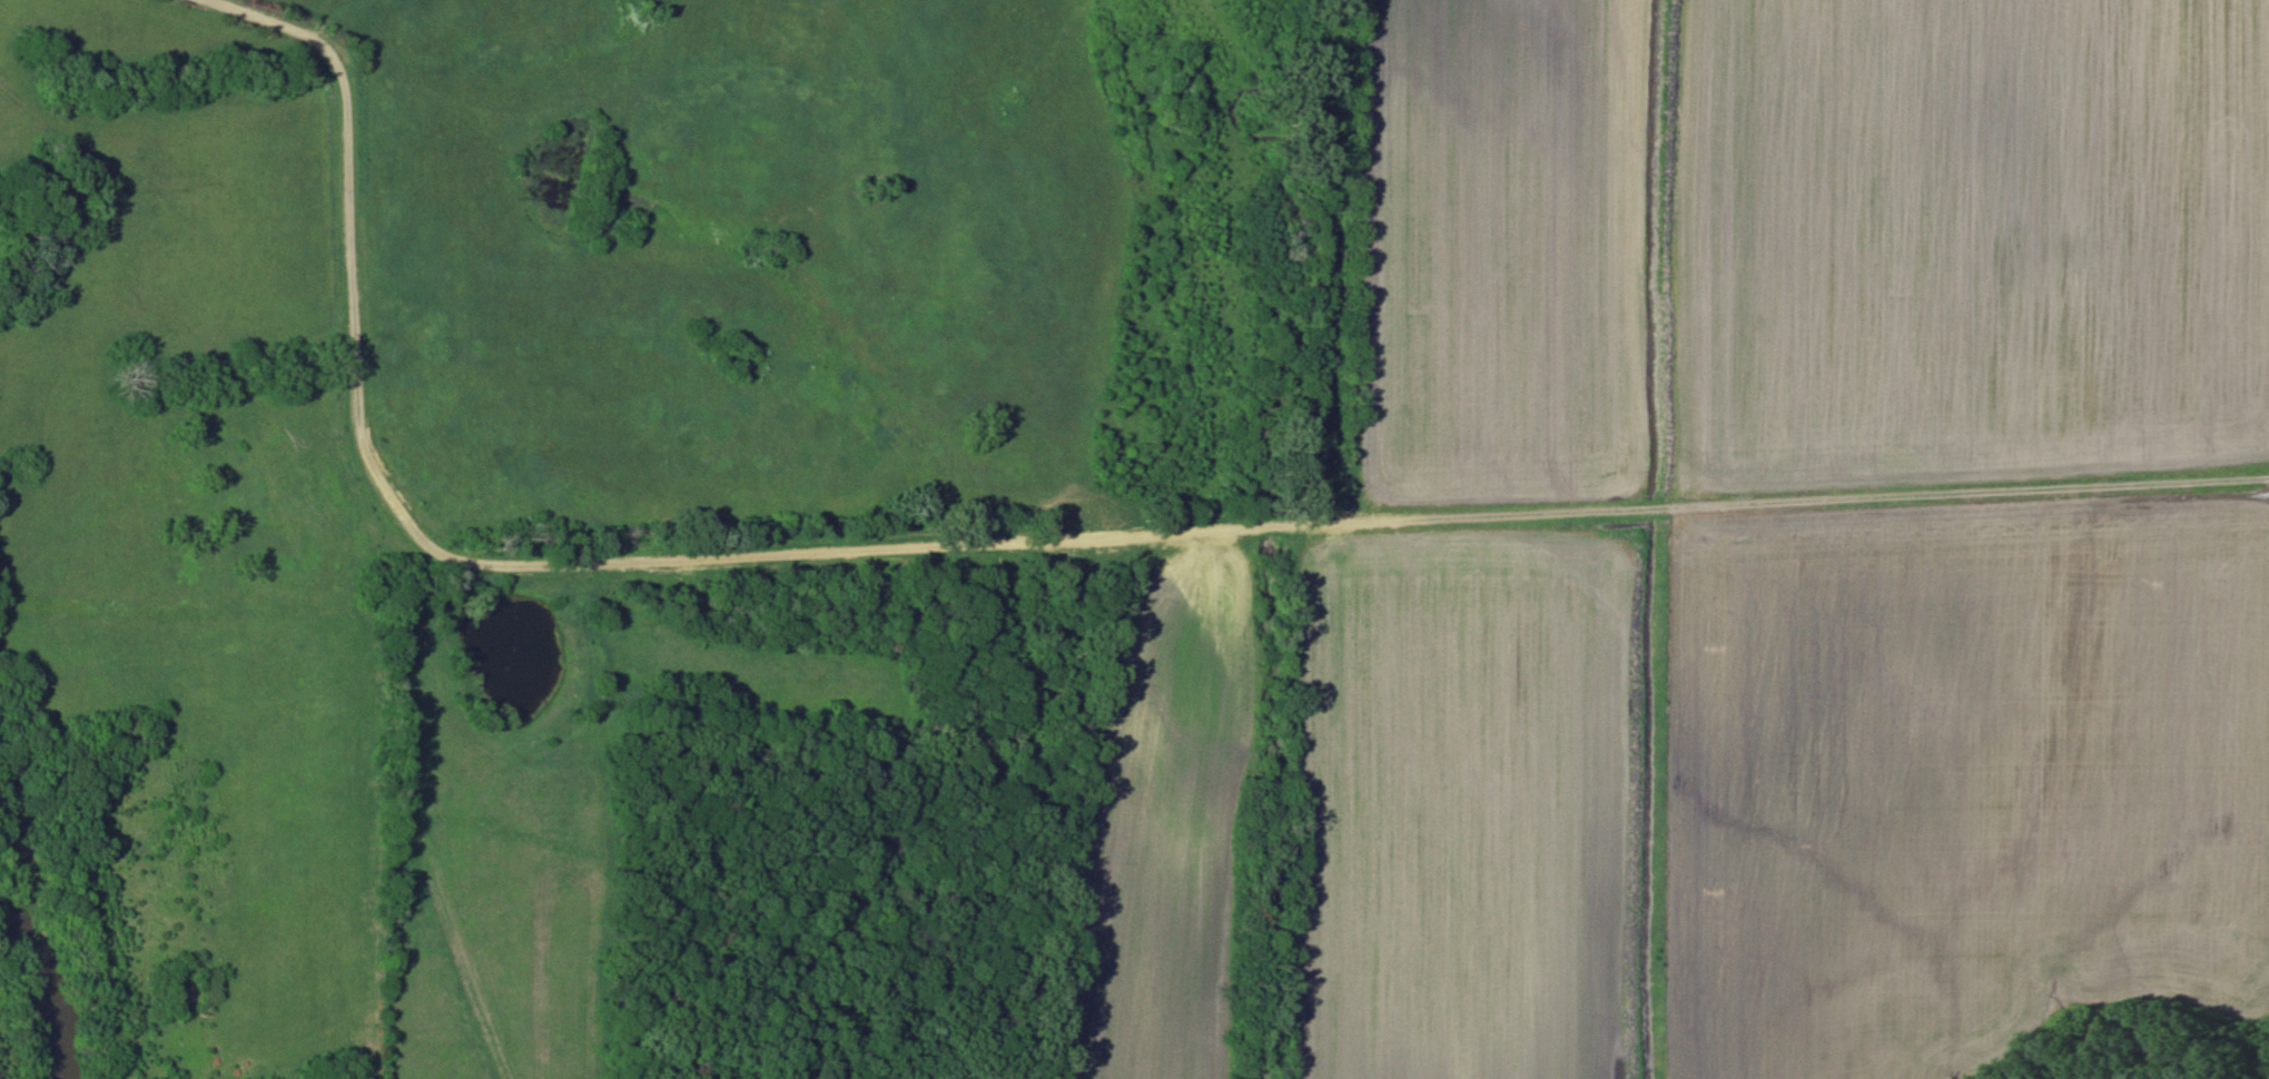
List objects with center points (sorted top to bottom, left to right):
road: (1017, 537)

